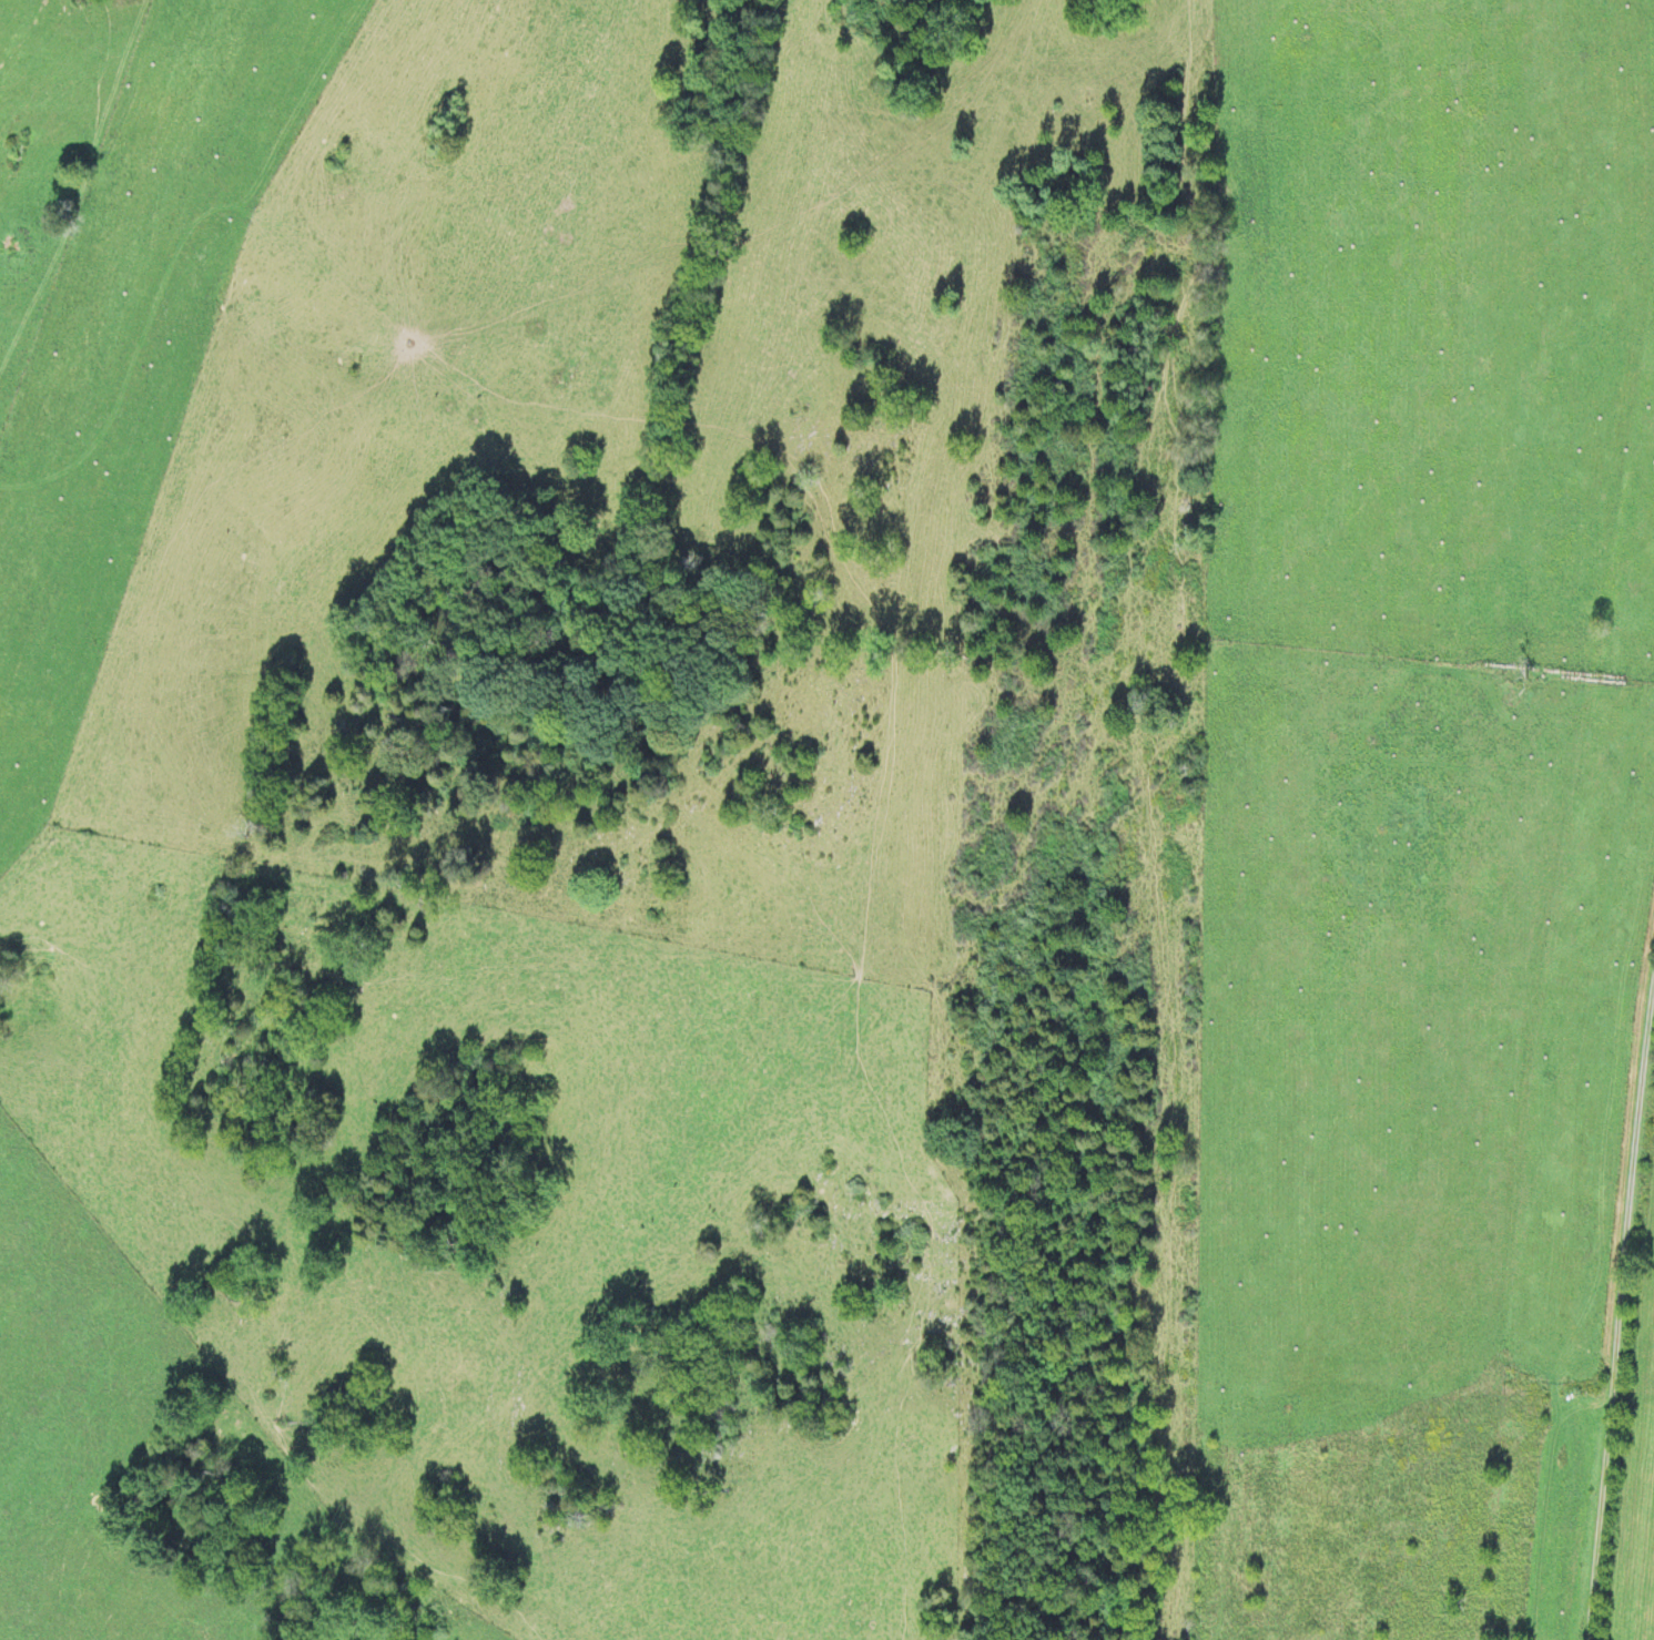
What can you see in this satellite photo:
road: (1624, 1306)

